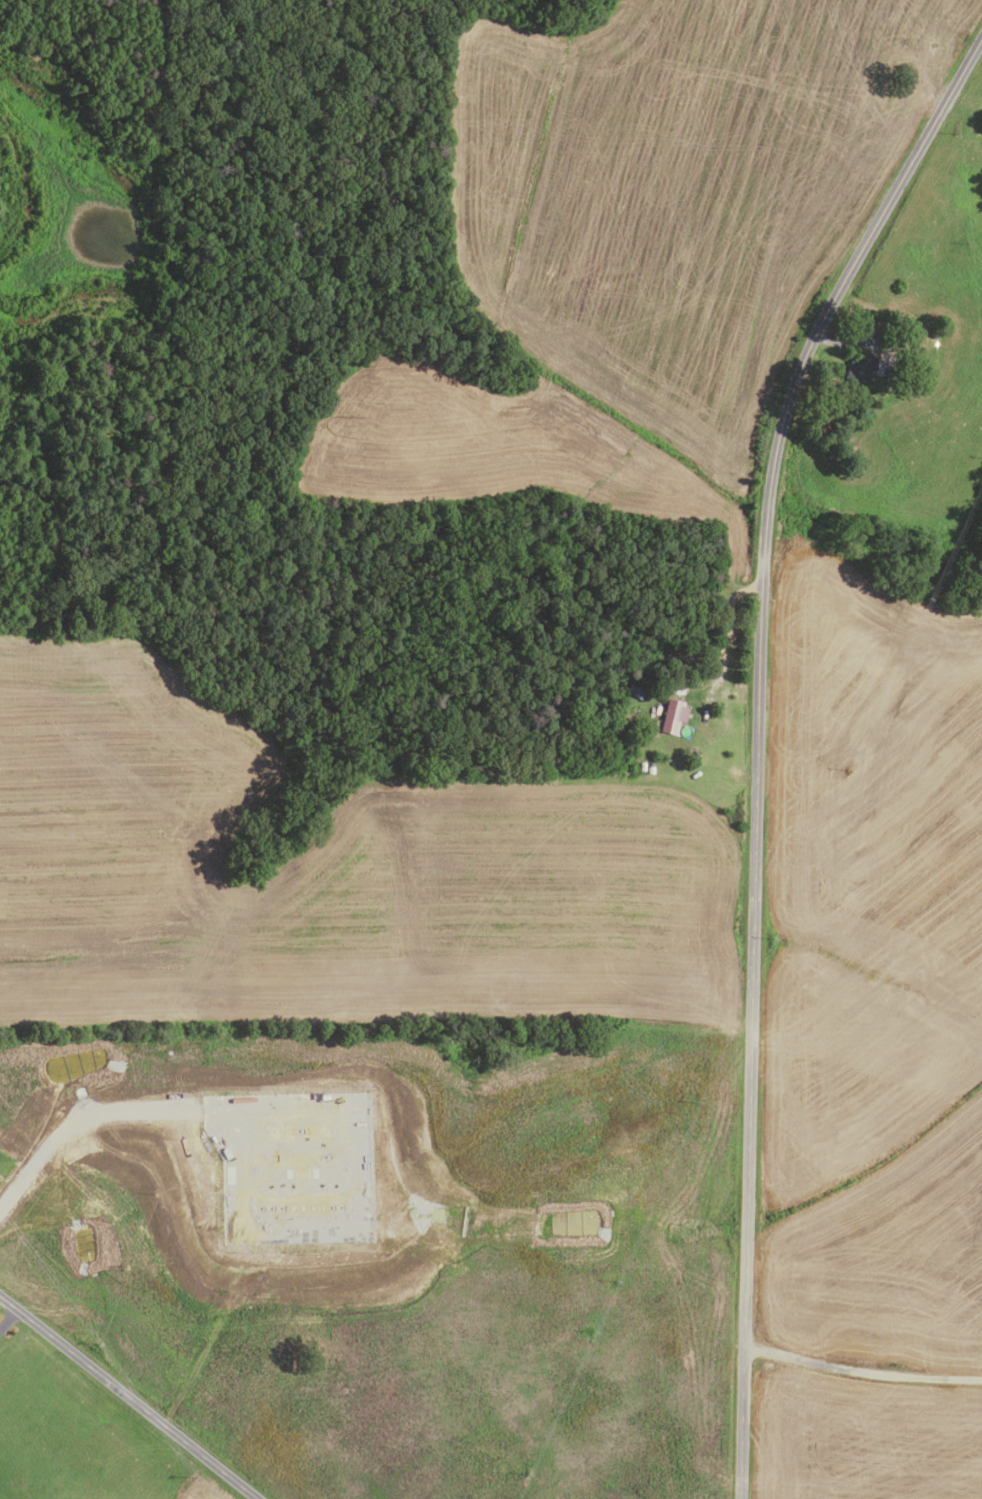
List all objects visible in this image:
building: (910, 80)
building: (935, 343)
road: (852, 344)
building: (906, 347)
building: (908, 359)
building: (863, 369)
road: (725, 641)
building: (663, 670)
building: (634, 692)
building: (672, 716)
road: (756, 744)
building: (642, 767)
building: (650, 768)
building: (227, 1249)
road: (10, 1321)
road: (861, 1372)
road: (128, 1397)

